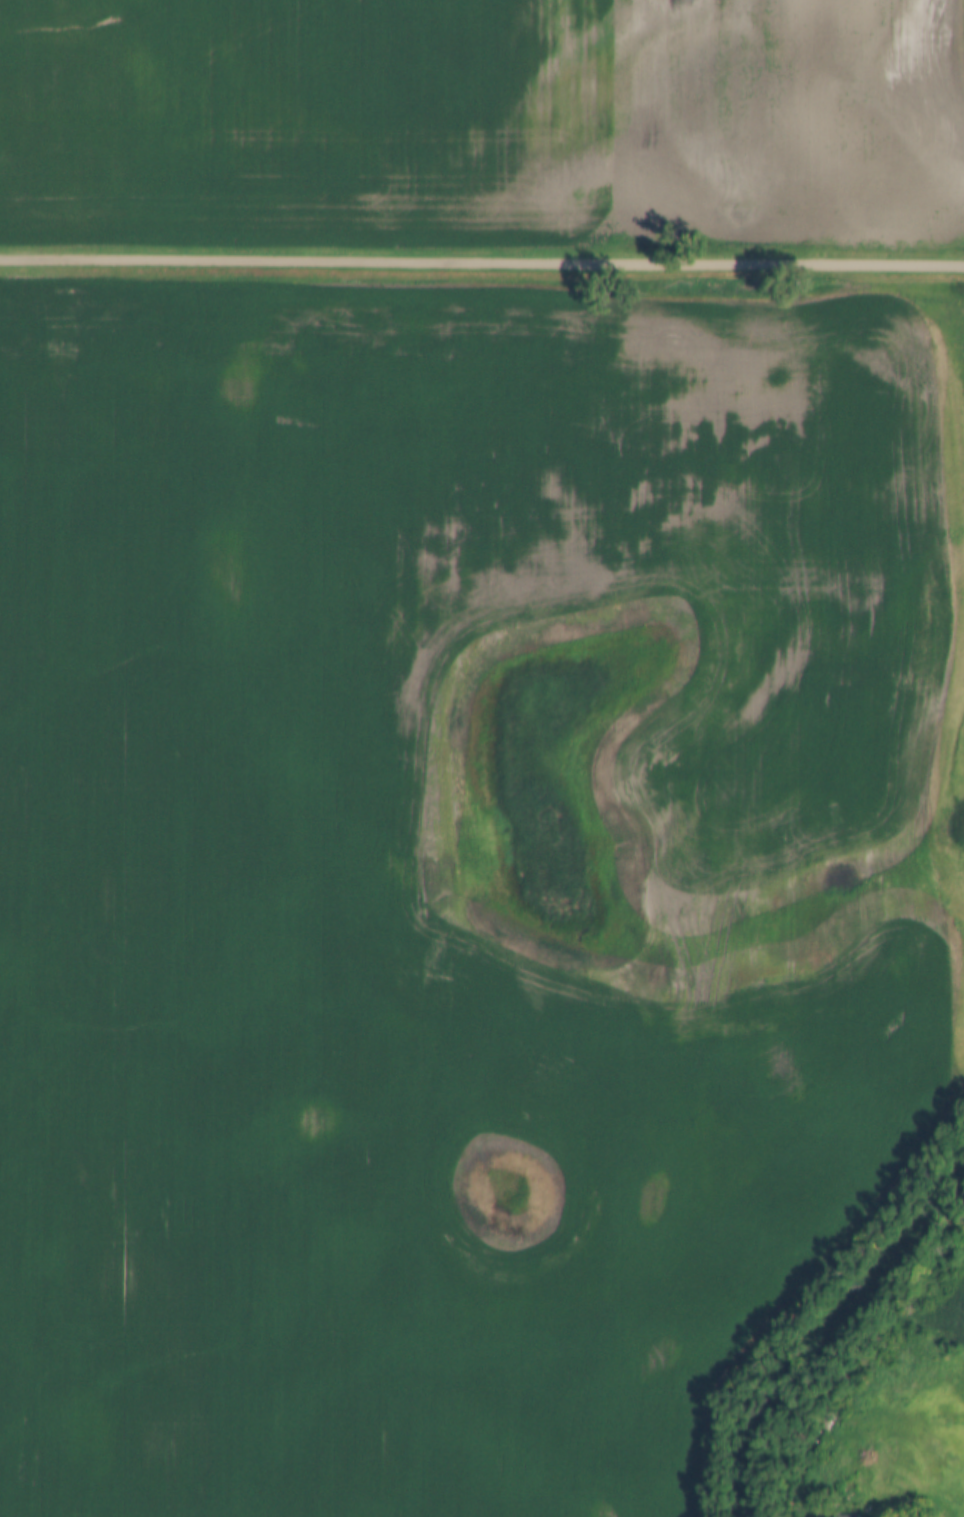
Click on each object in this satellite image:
road: (482, 260)
building: (848, 1424)
building: (853, 1451)
building: (850, 1472)
building: (850, 1491)

